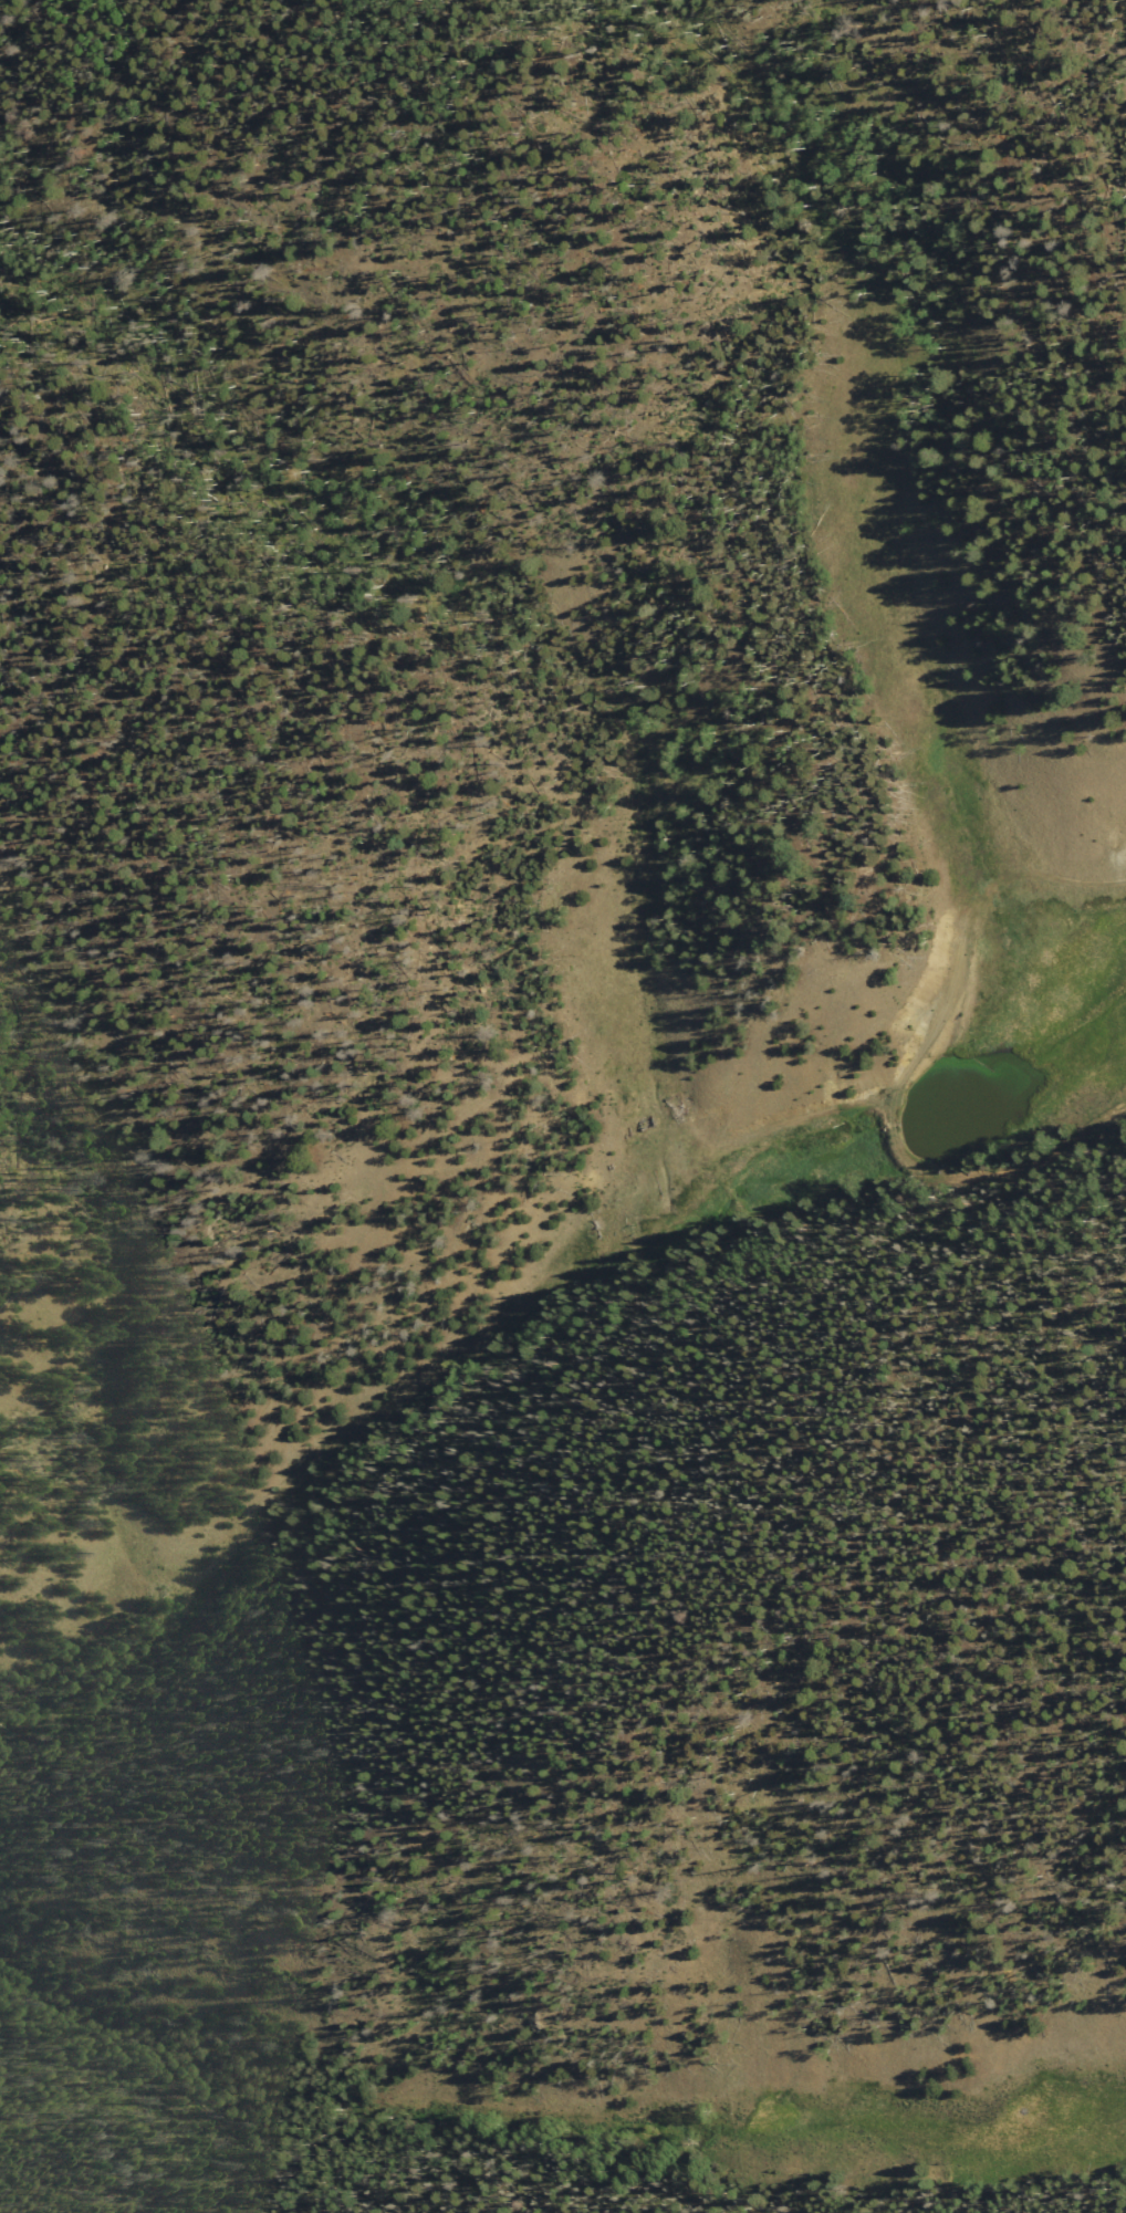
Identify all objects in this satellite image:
road: (18, 304)

